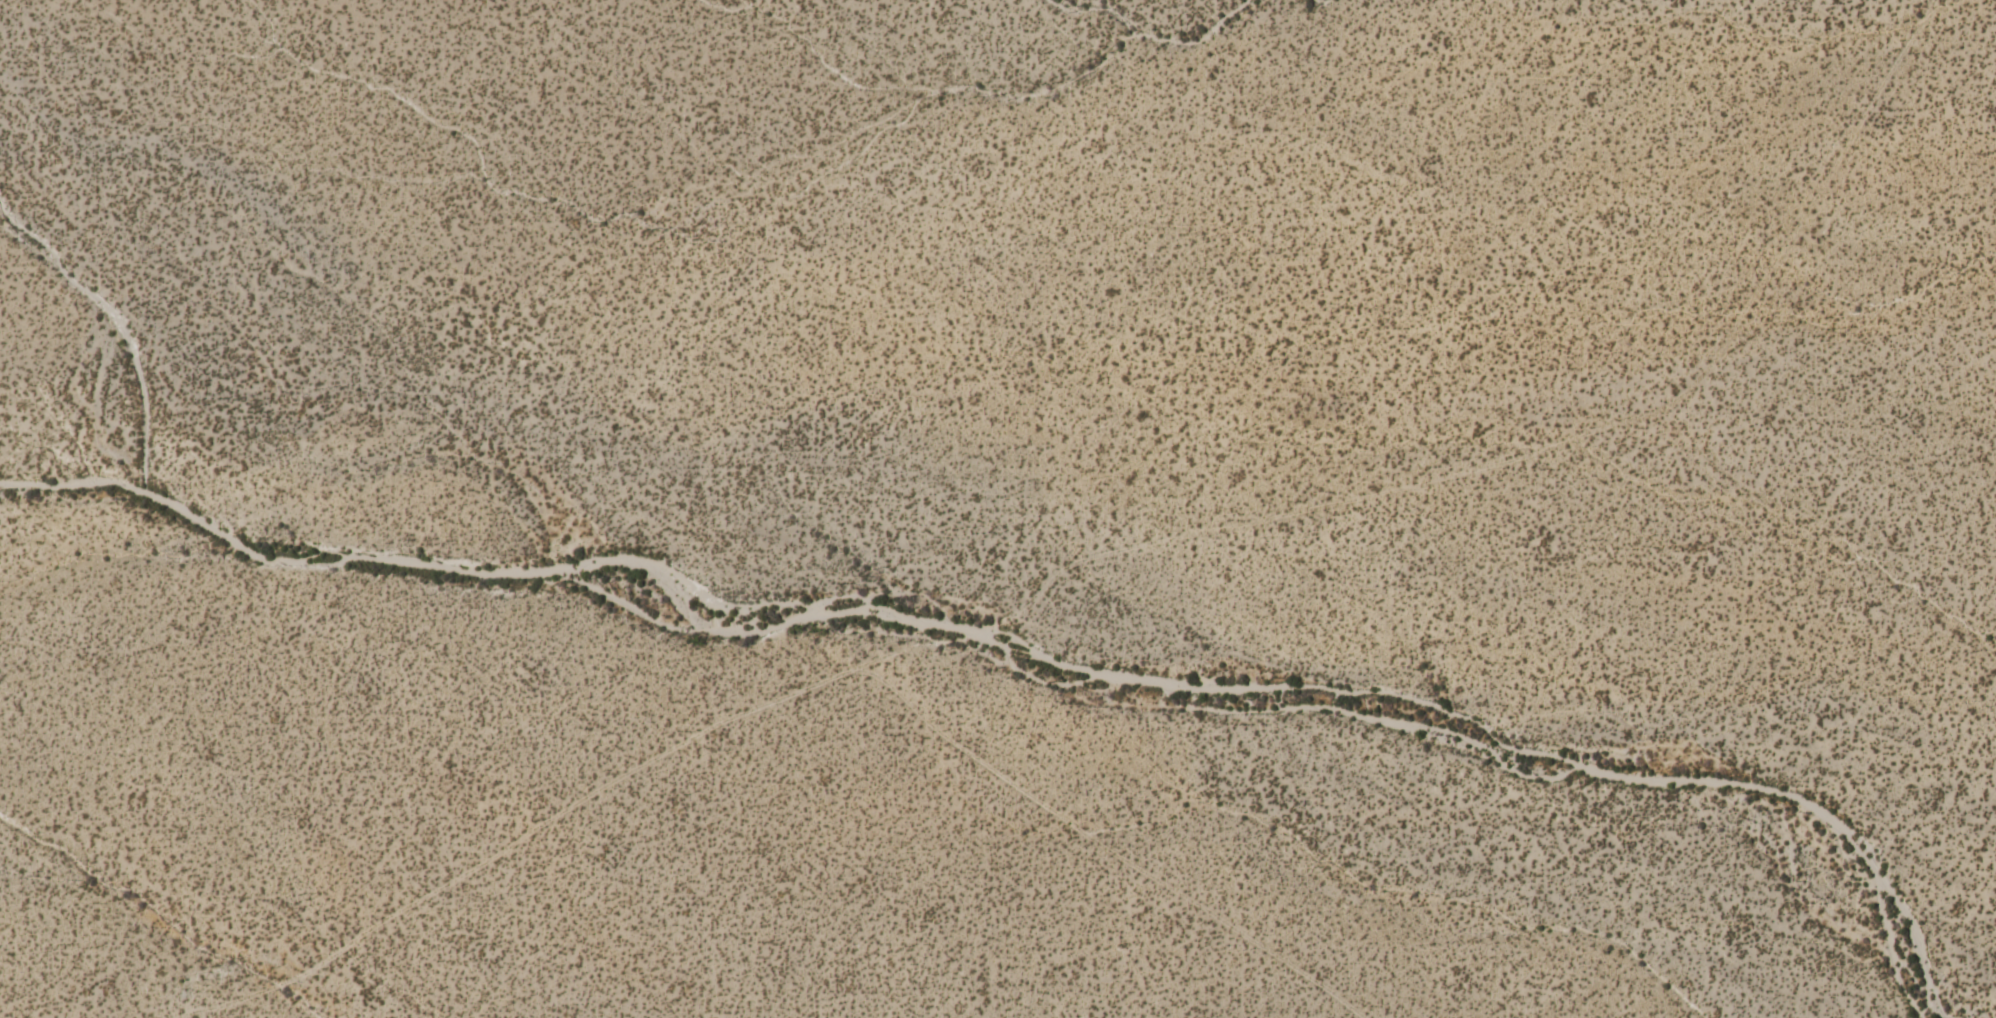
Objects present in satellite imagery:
road: (1099, 500)

